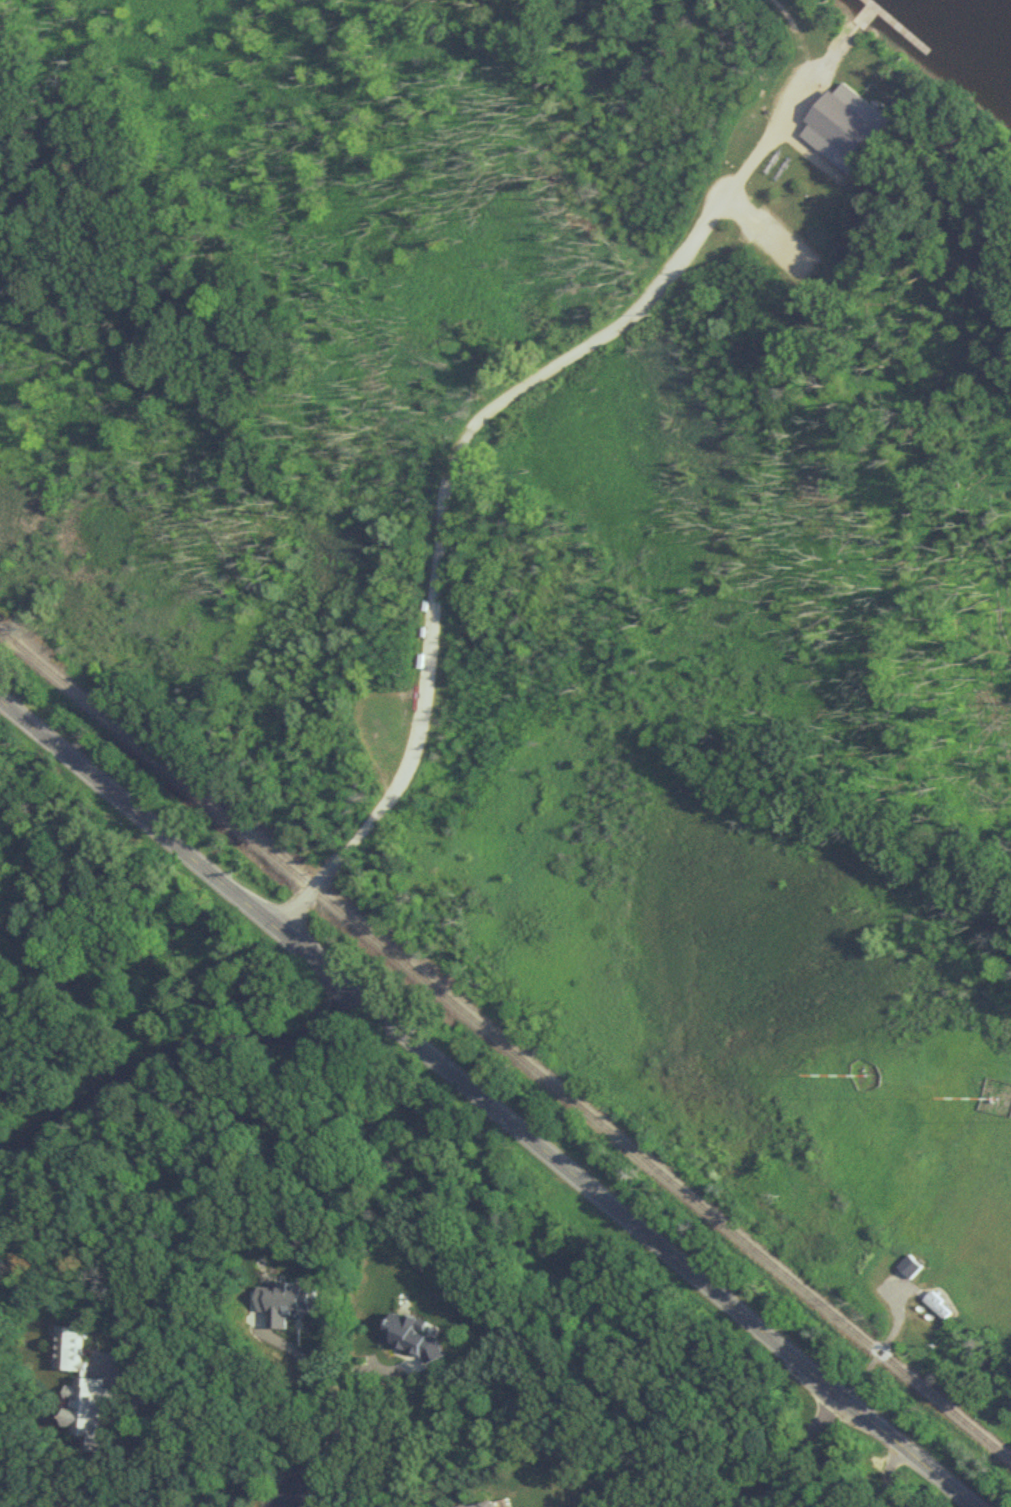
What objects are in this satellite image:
road: (797, 37)
building: (847, 127)
park: (449, 422)
road: (468, 430)
railway: (505, 1045)
road: (163, 1056)
road: (487, 1103)
building: (912, 1266)
building: (942, 1307)
road: (883, 1348)
road: (319, 1380)
building: (86, 1393)
road: (360, 1424)
road: (134, 1430)
road: (793, 1450)
road: (887, 1475)
road: (300, 1480)
building: (500, 1504)

